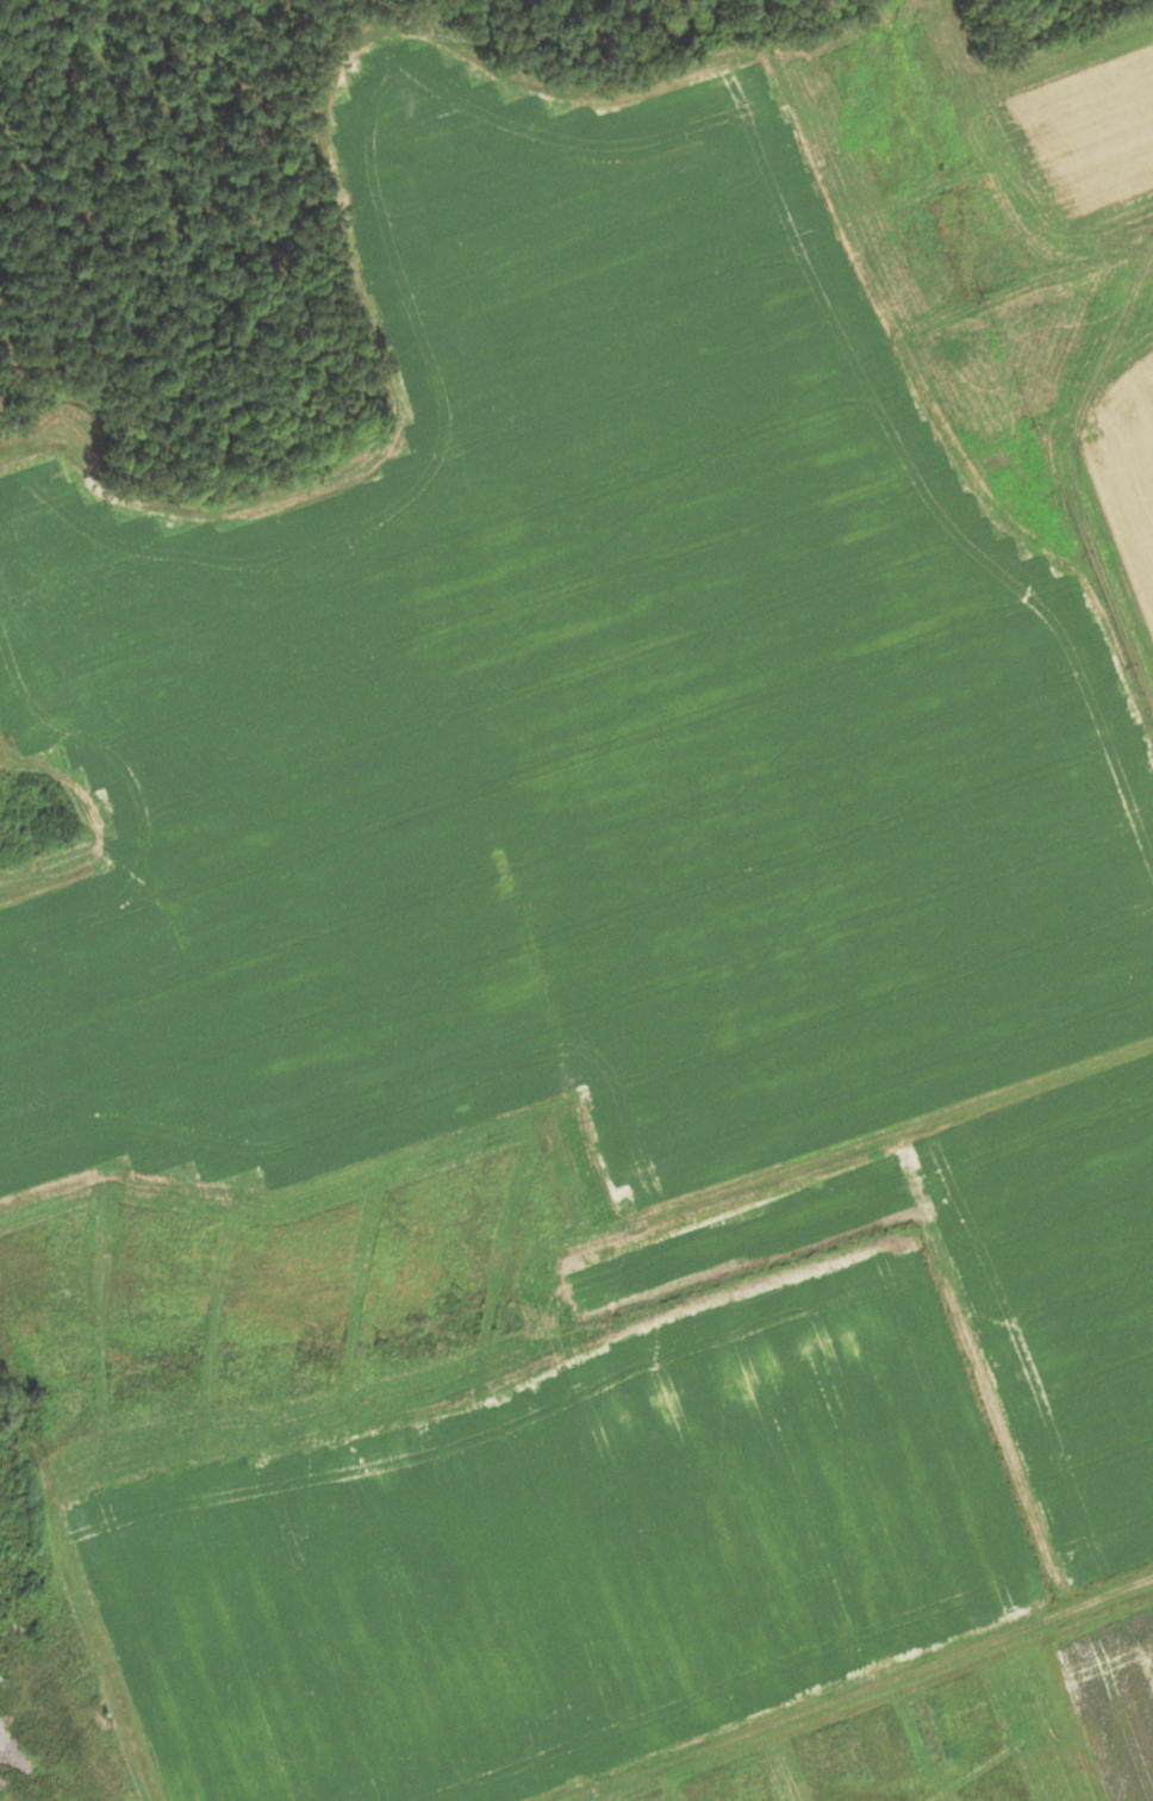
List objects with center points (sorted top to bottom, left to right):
road: (1108, 358)
road: (1104, 596)

